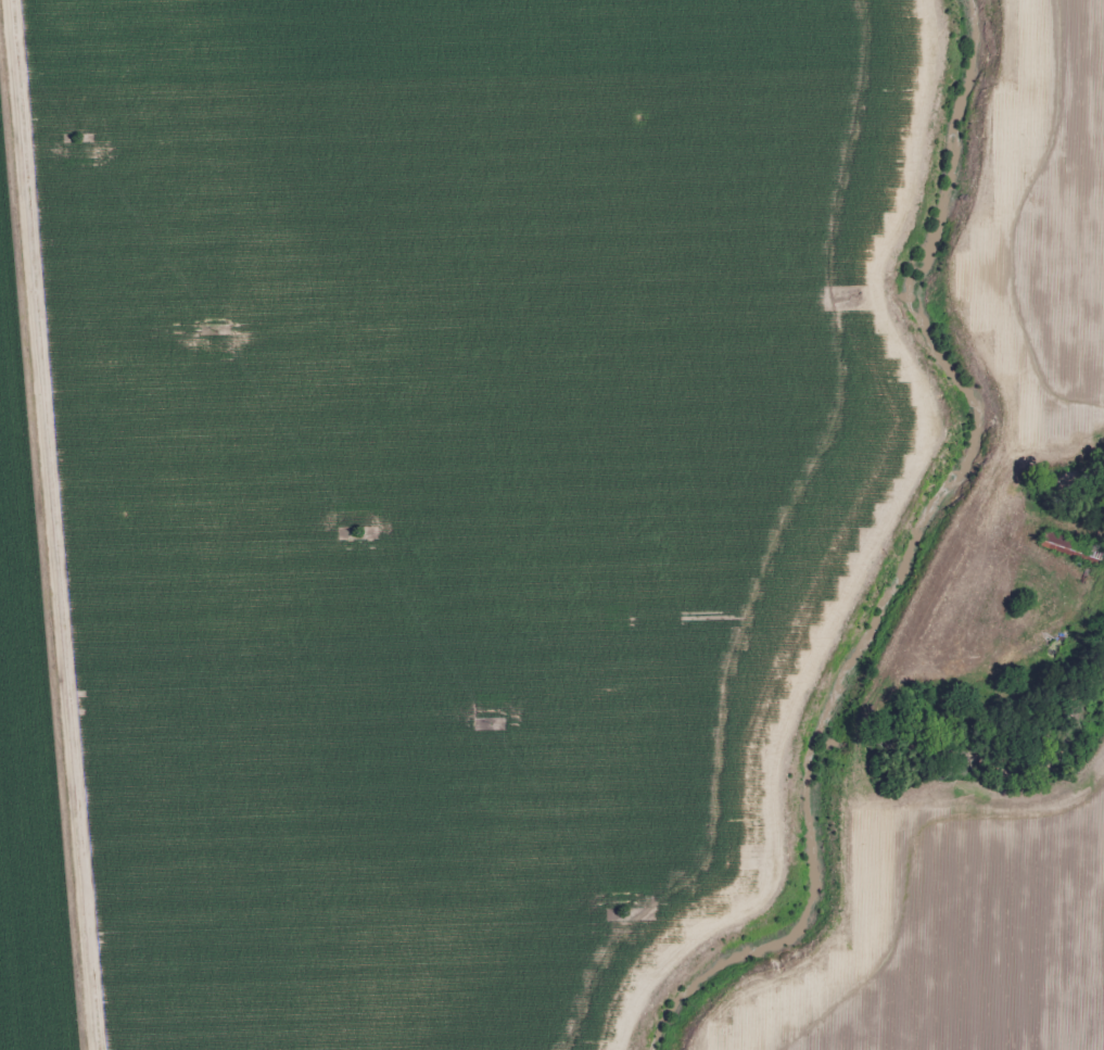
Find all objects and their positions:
building: (1056, 541)

